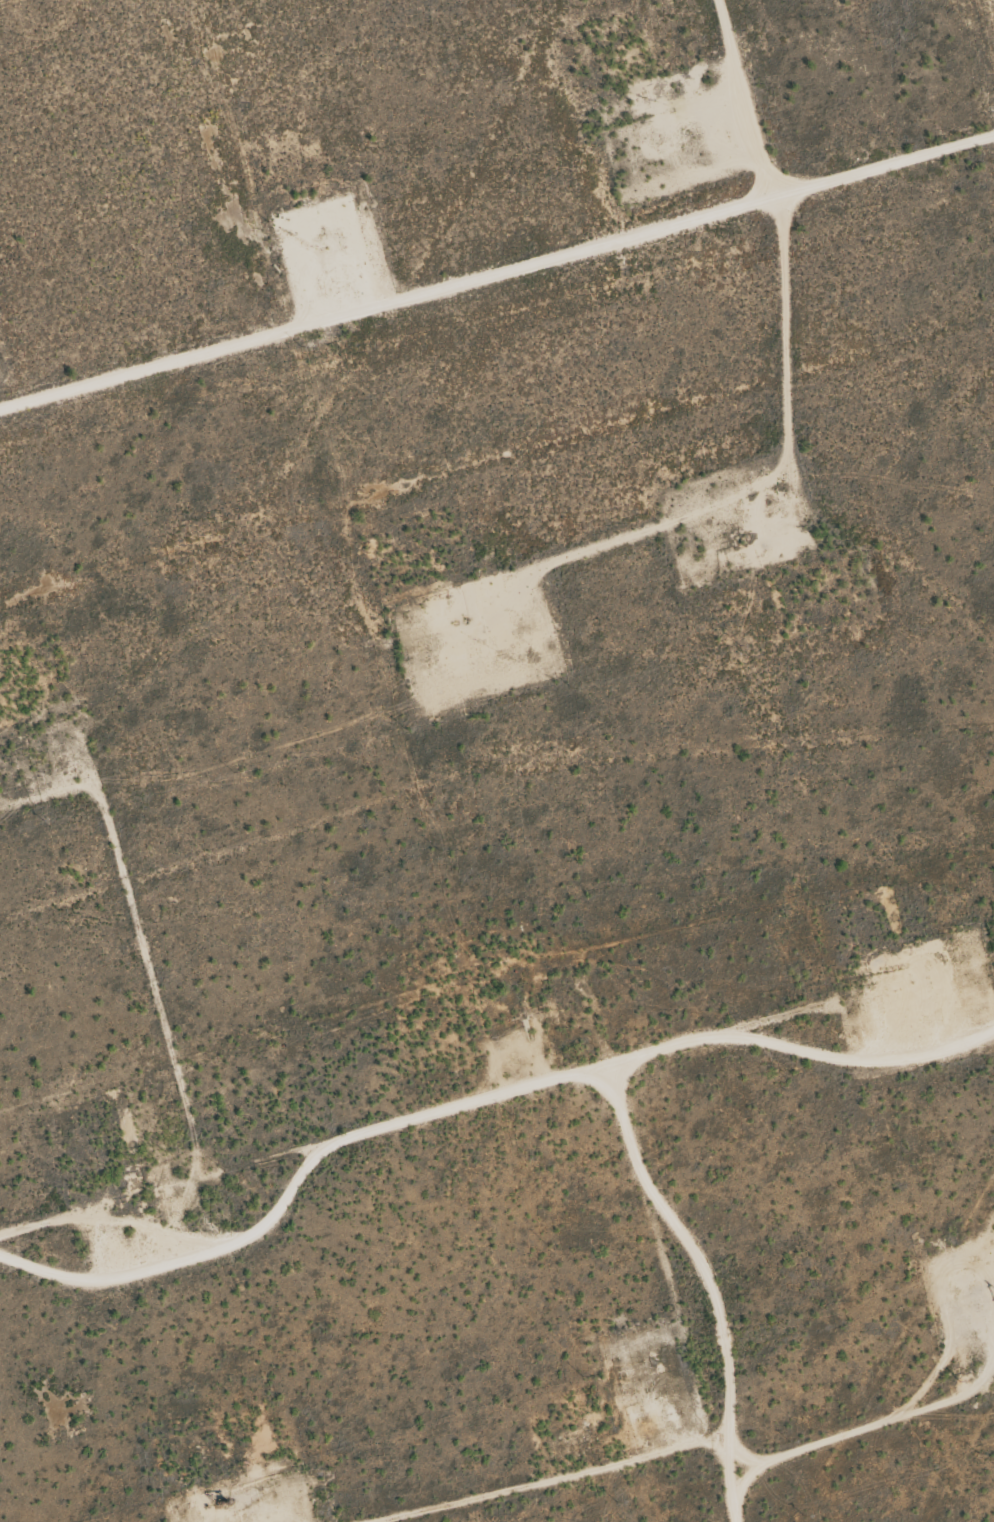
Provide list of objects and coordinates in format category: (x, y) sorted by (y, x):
road: (497, 271)
road: (495, 1089)
road: (699, 1281)

